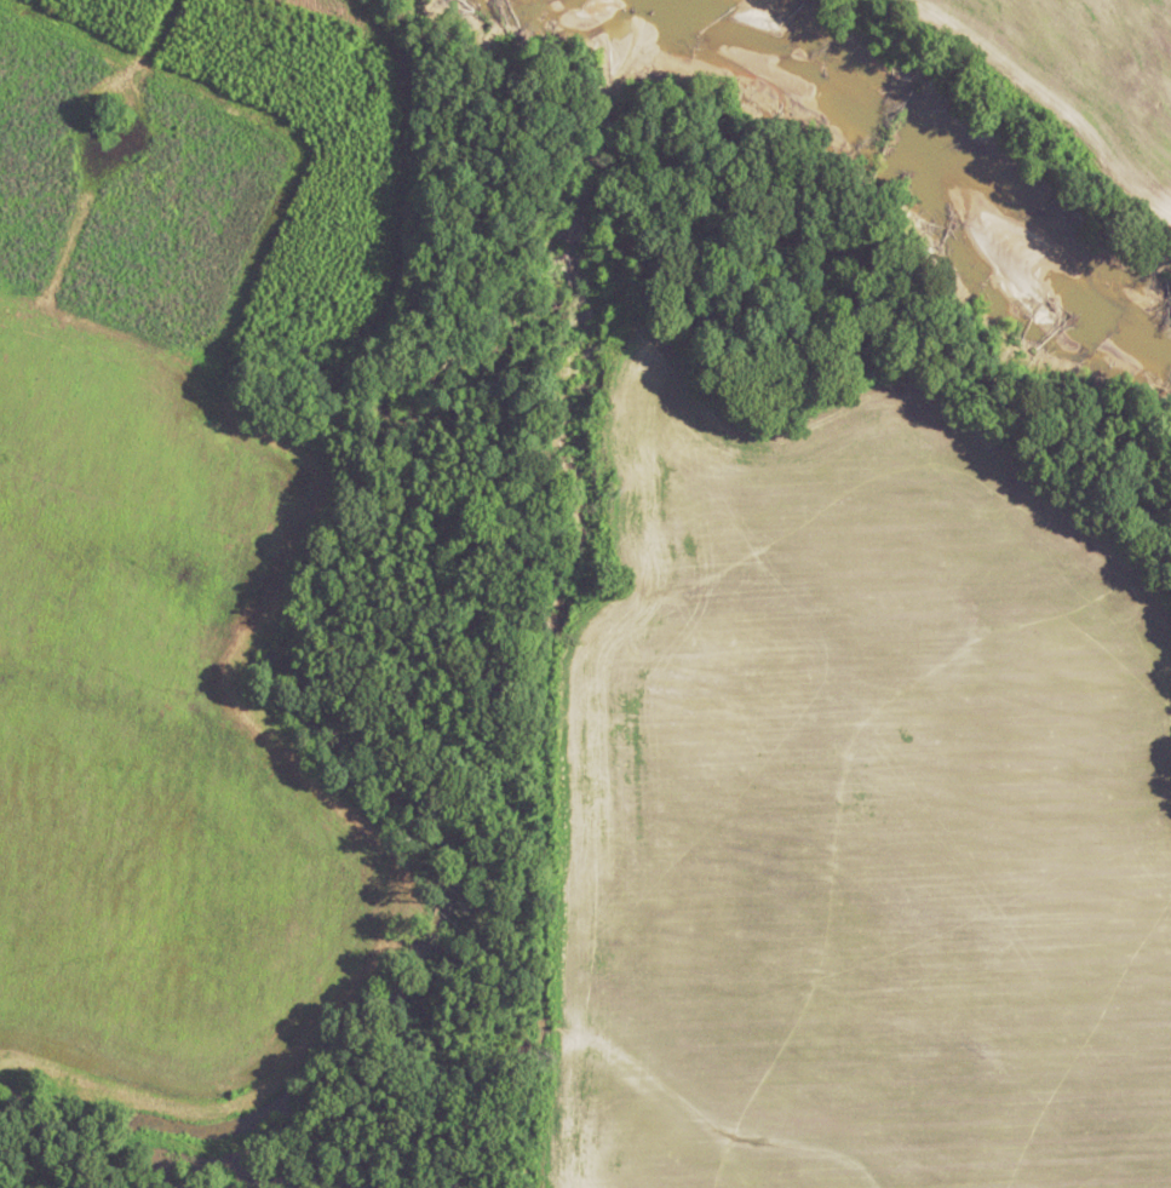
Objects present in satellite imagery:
river: (951, 162)

